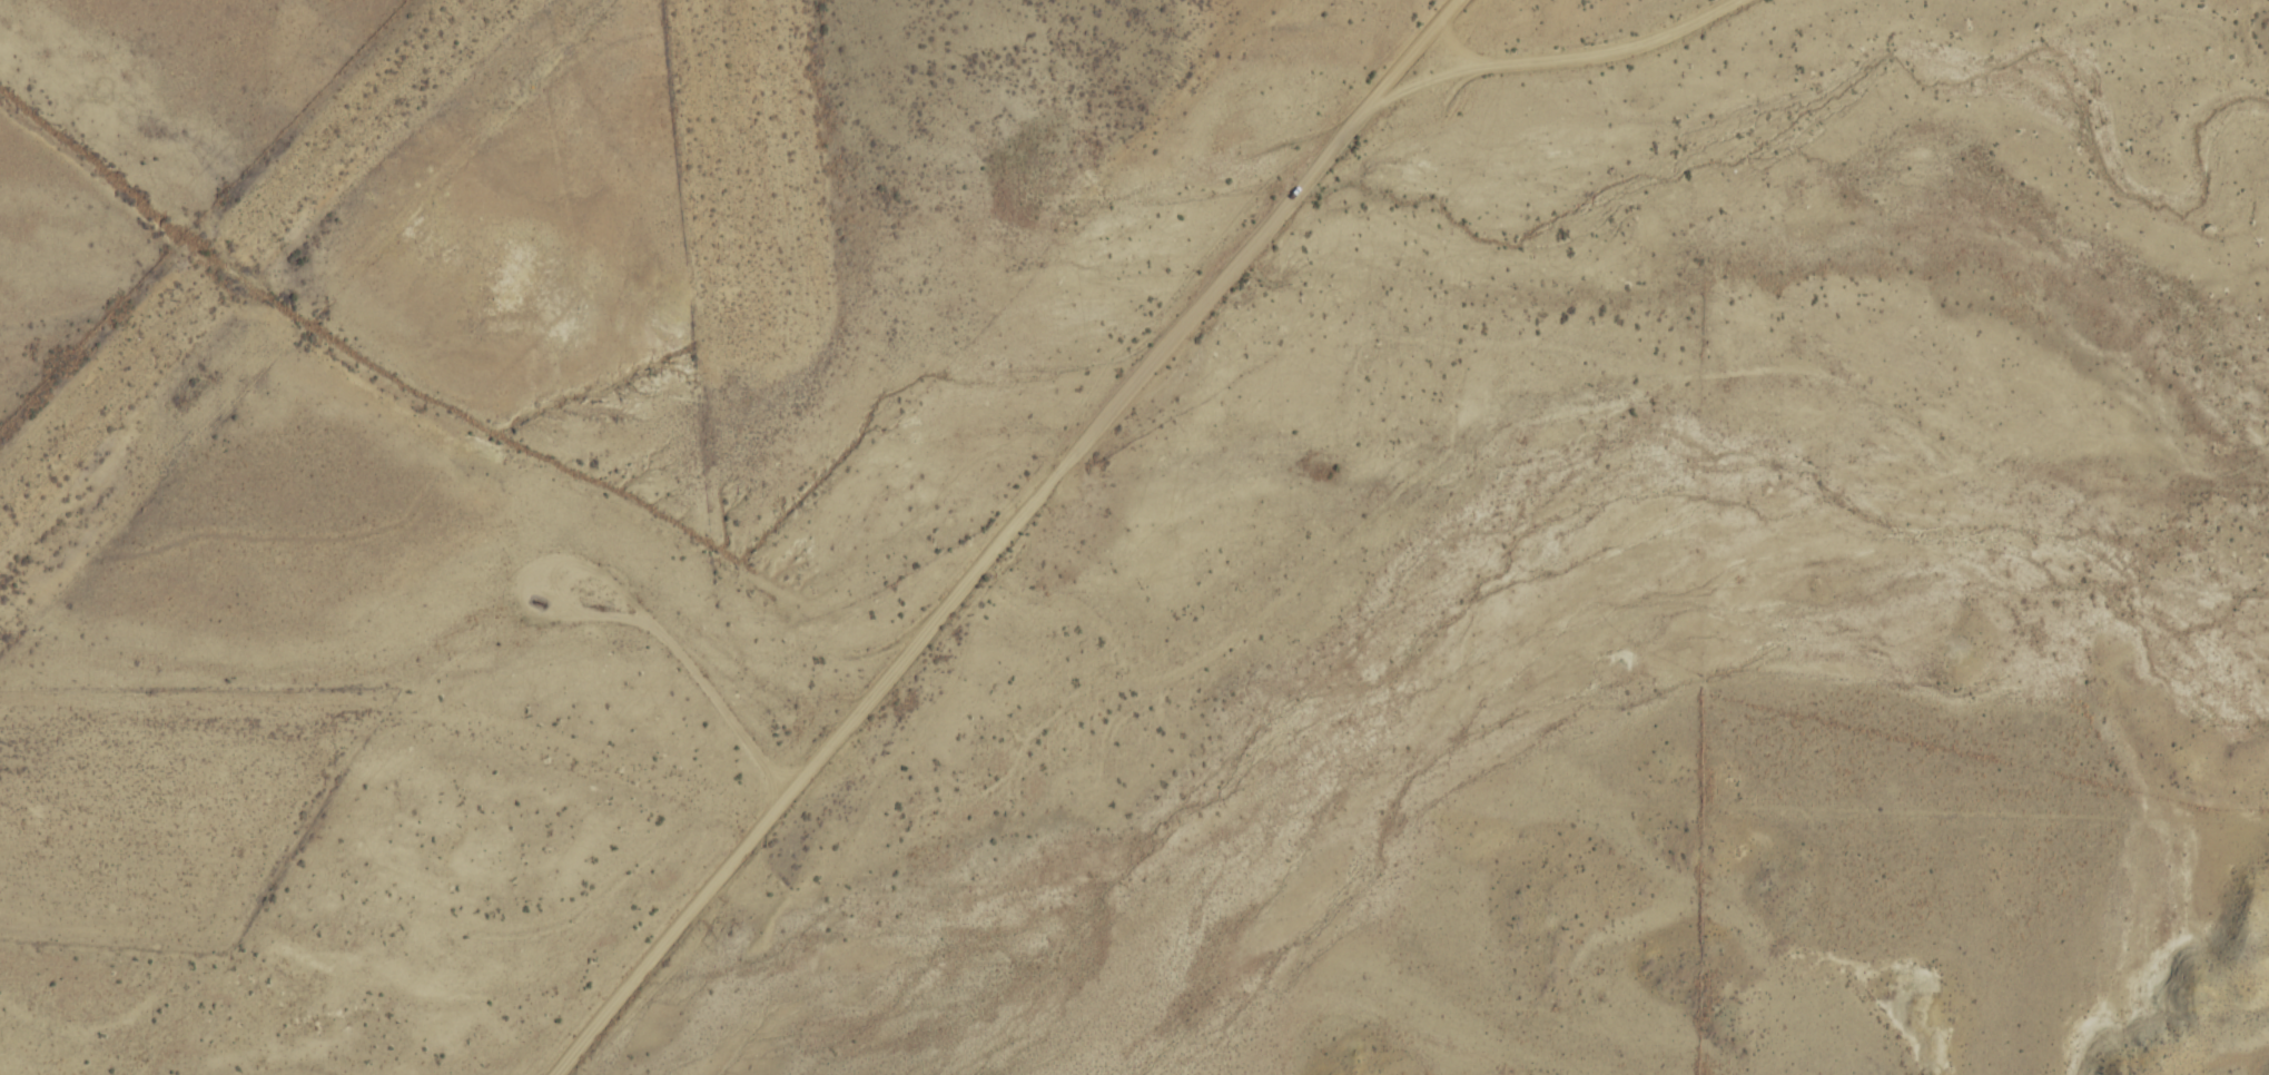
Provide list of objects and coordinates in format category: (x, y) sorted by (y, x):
road: (1459, 40)
road: (1546, 55)
road: (1003, 534)

